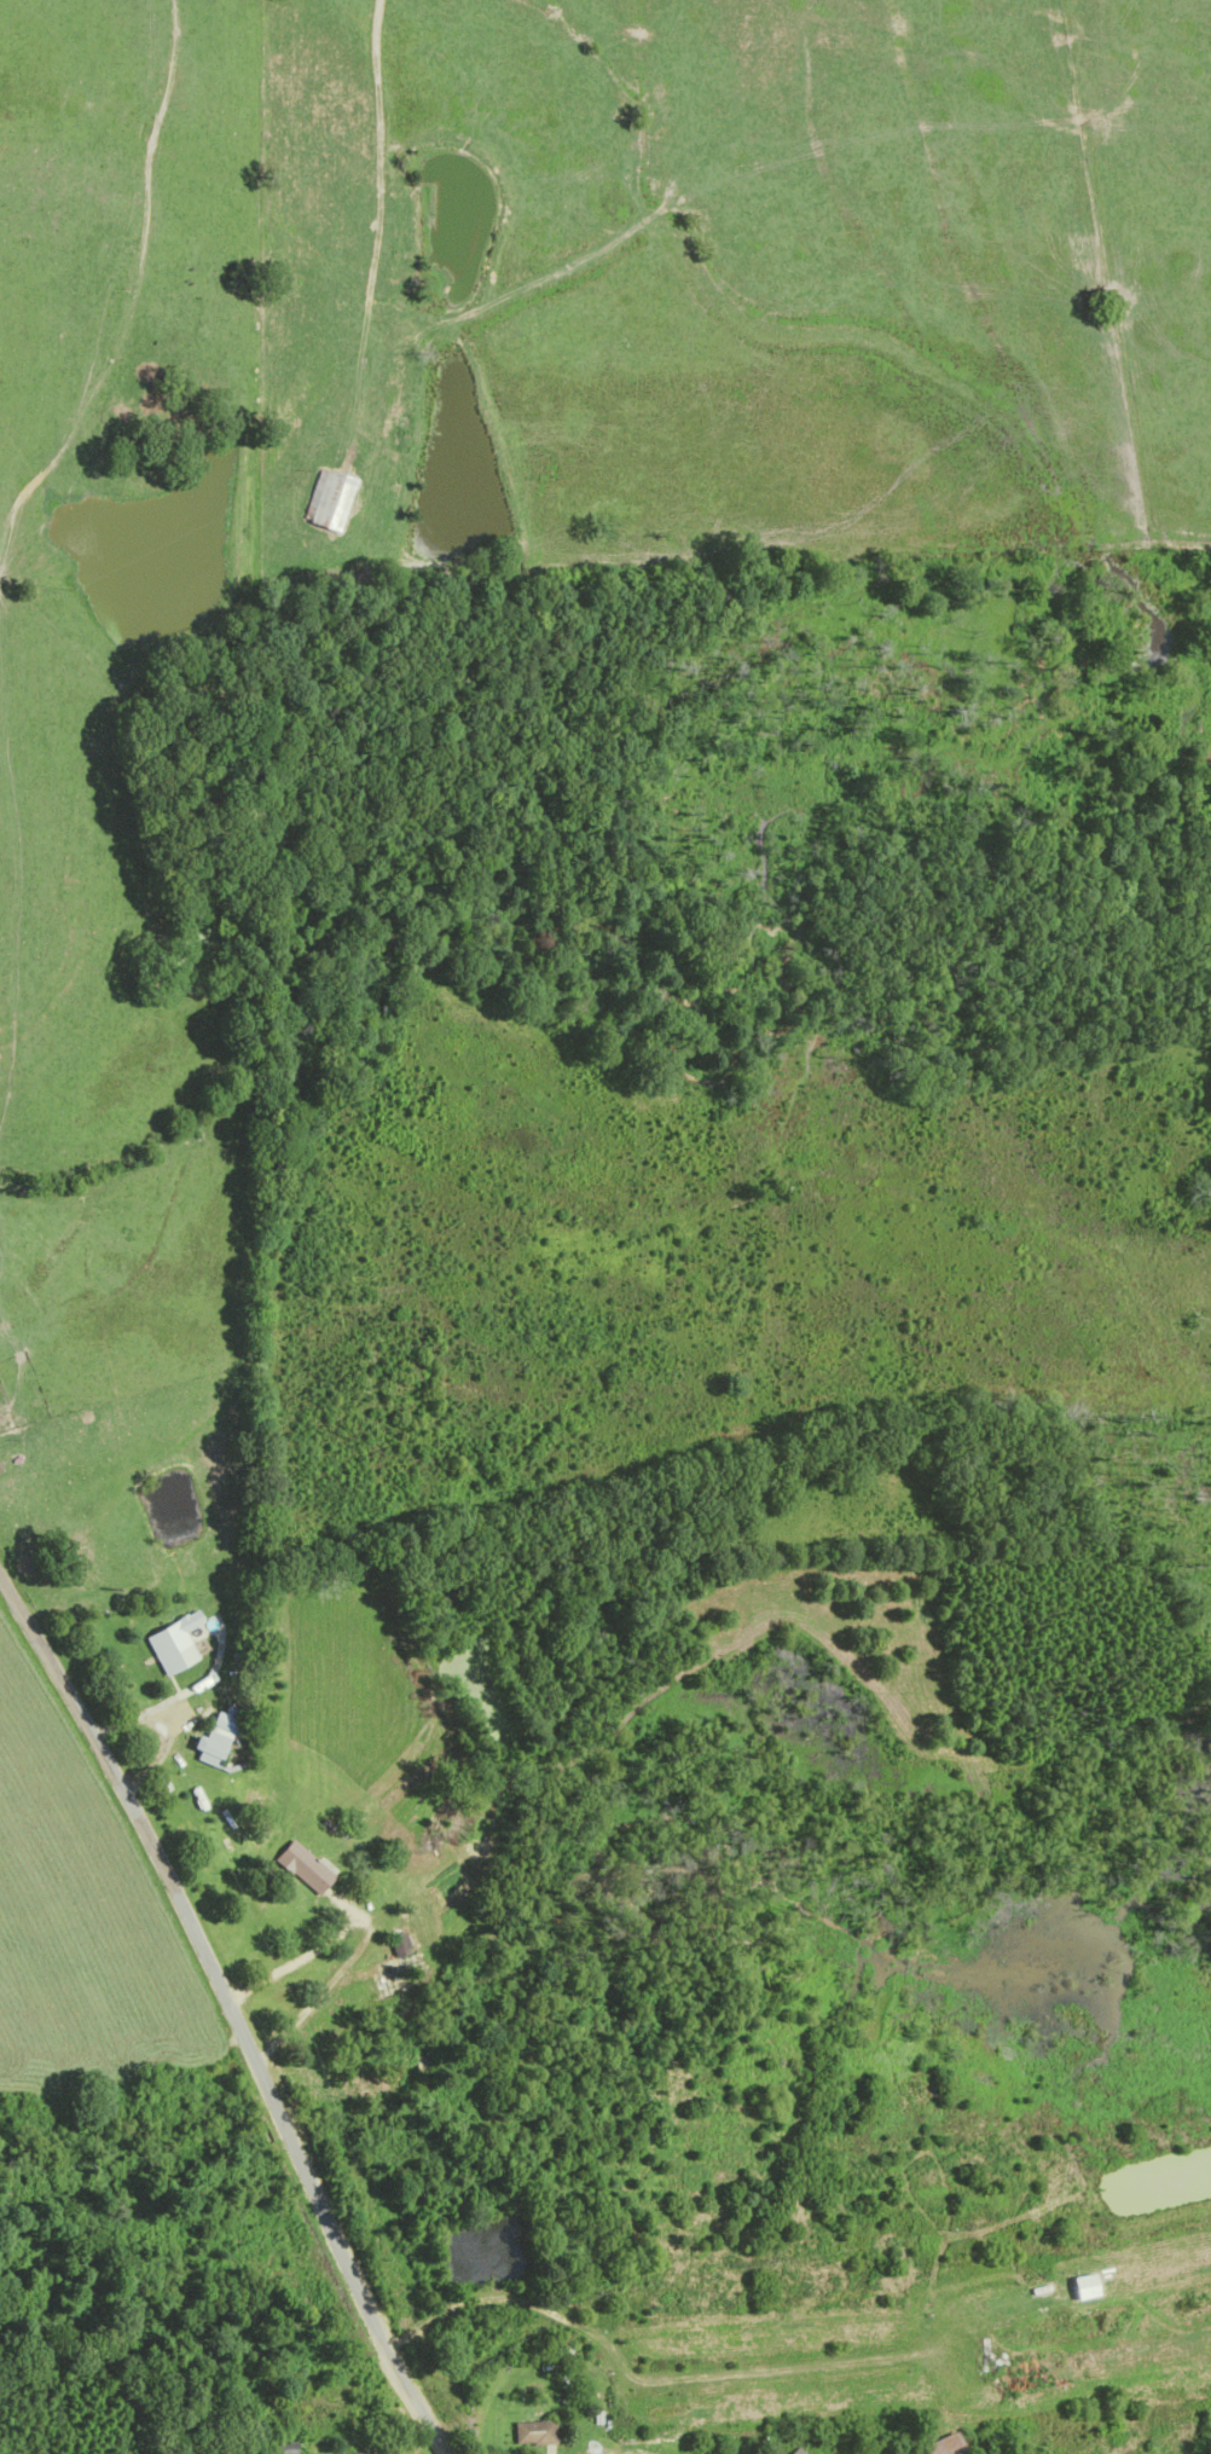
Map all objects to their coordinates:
road: (371, 235)
building: (323, 503)
road: (164, 580)
building: (168, 1650)
building: (207, 1752)
building: (224, 1829)
building: (303, 1870)
building: (395, 1945)
building: (384, 1986)
road: (231, 2014)
building: (1094, 2285)
building: (759, 2336)
building: (1101, 2362)
building: (765, 2408)
building: (533, 2436)
road: (662, 2446)
building: (938, 2447)
building: (280, 2448)

